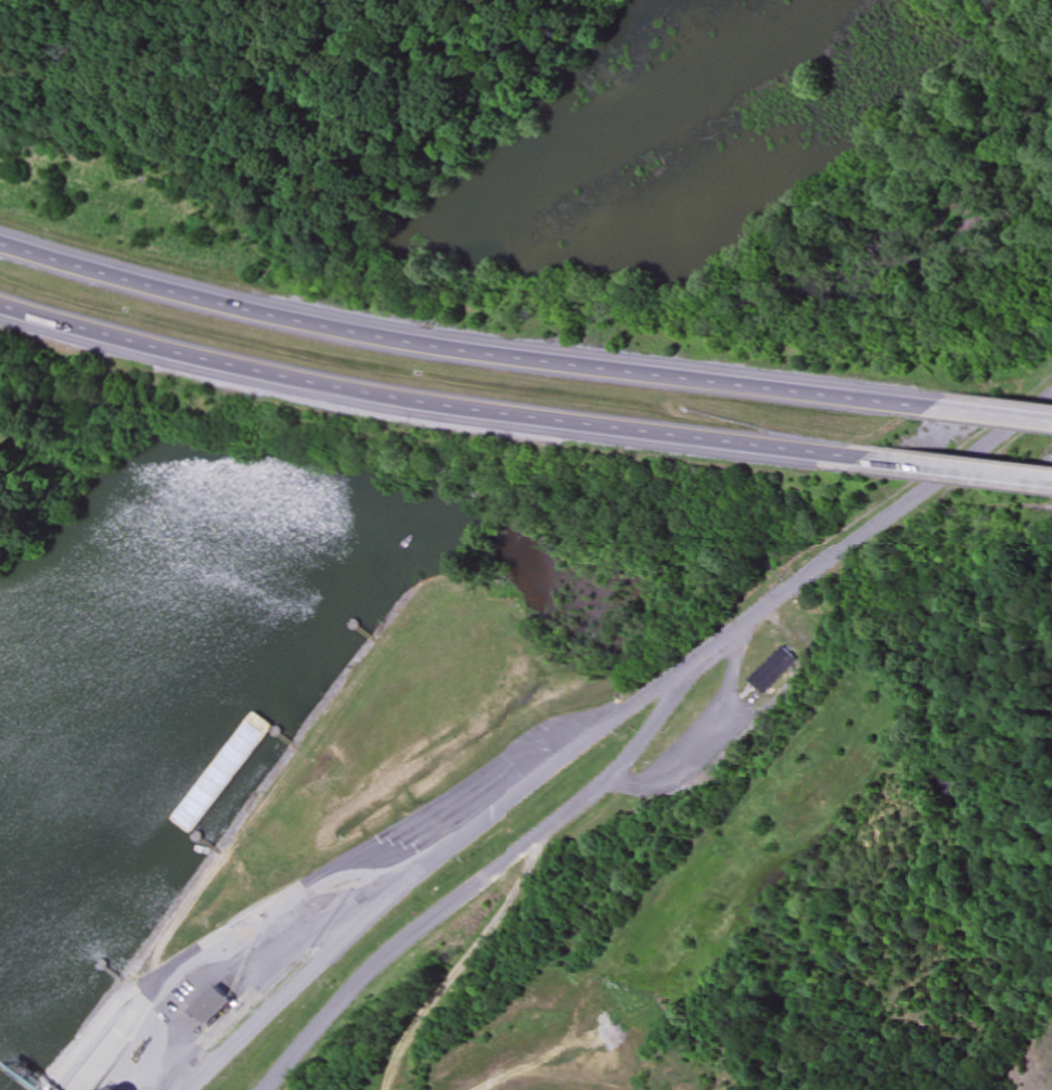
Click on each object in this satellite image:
park: (126, 91)
road: (460, 348)
road: (428, 402)
road: (990, 415)
road: (958, 471)
building: (767, 672)
road: (605, 727)
building: (213, 1005)

